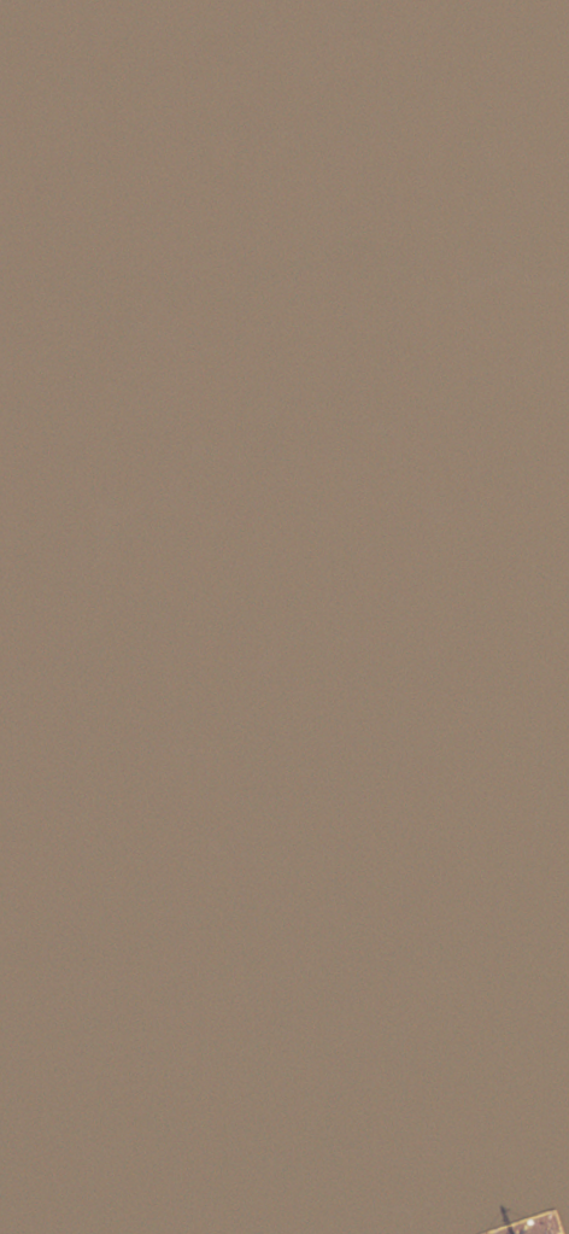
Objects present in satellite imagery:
river: (125, 80)
building: (508, 1217)

